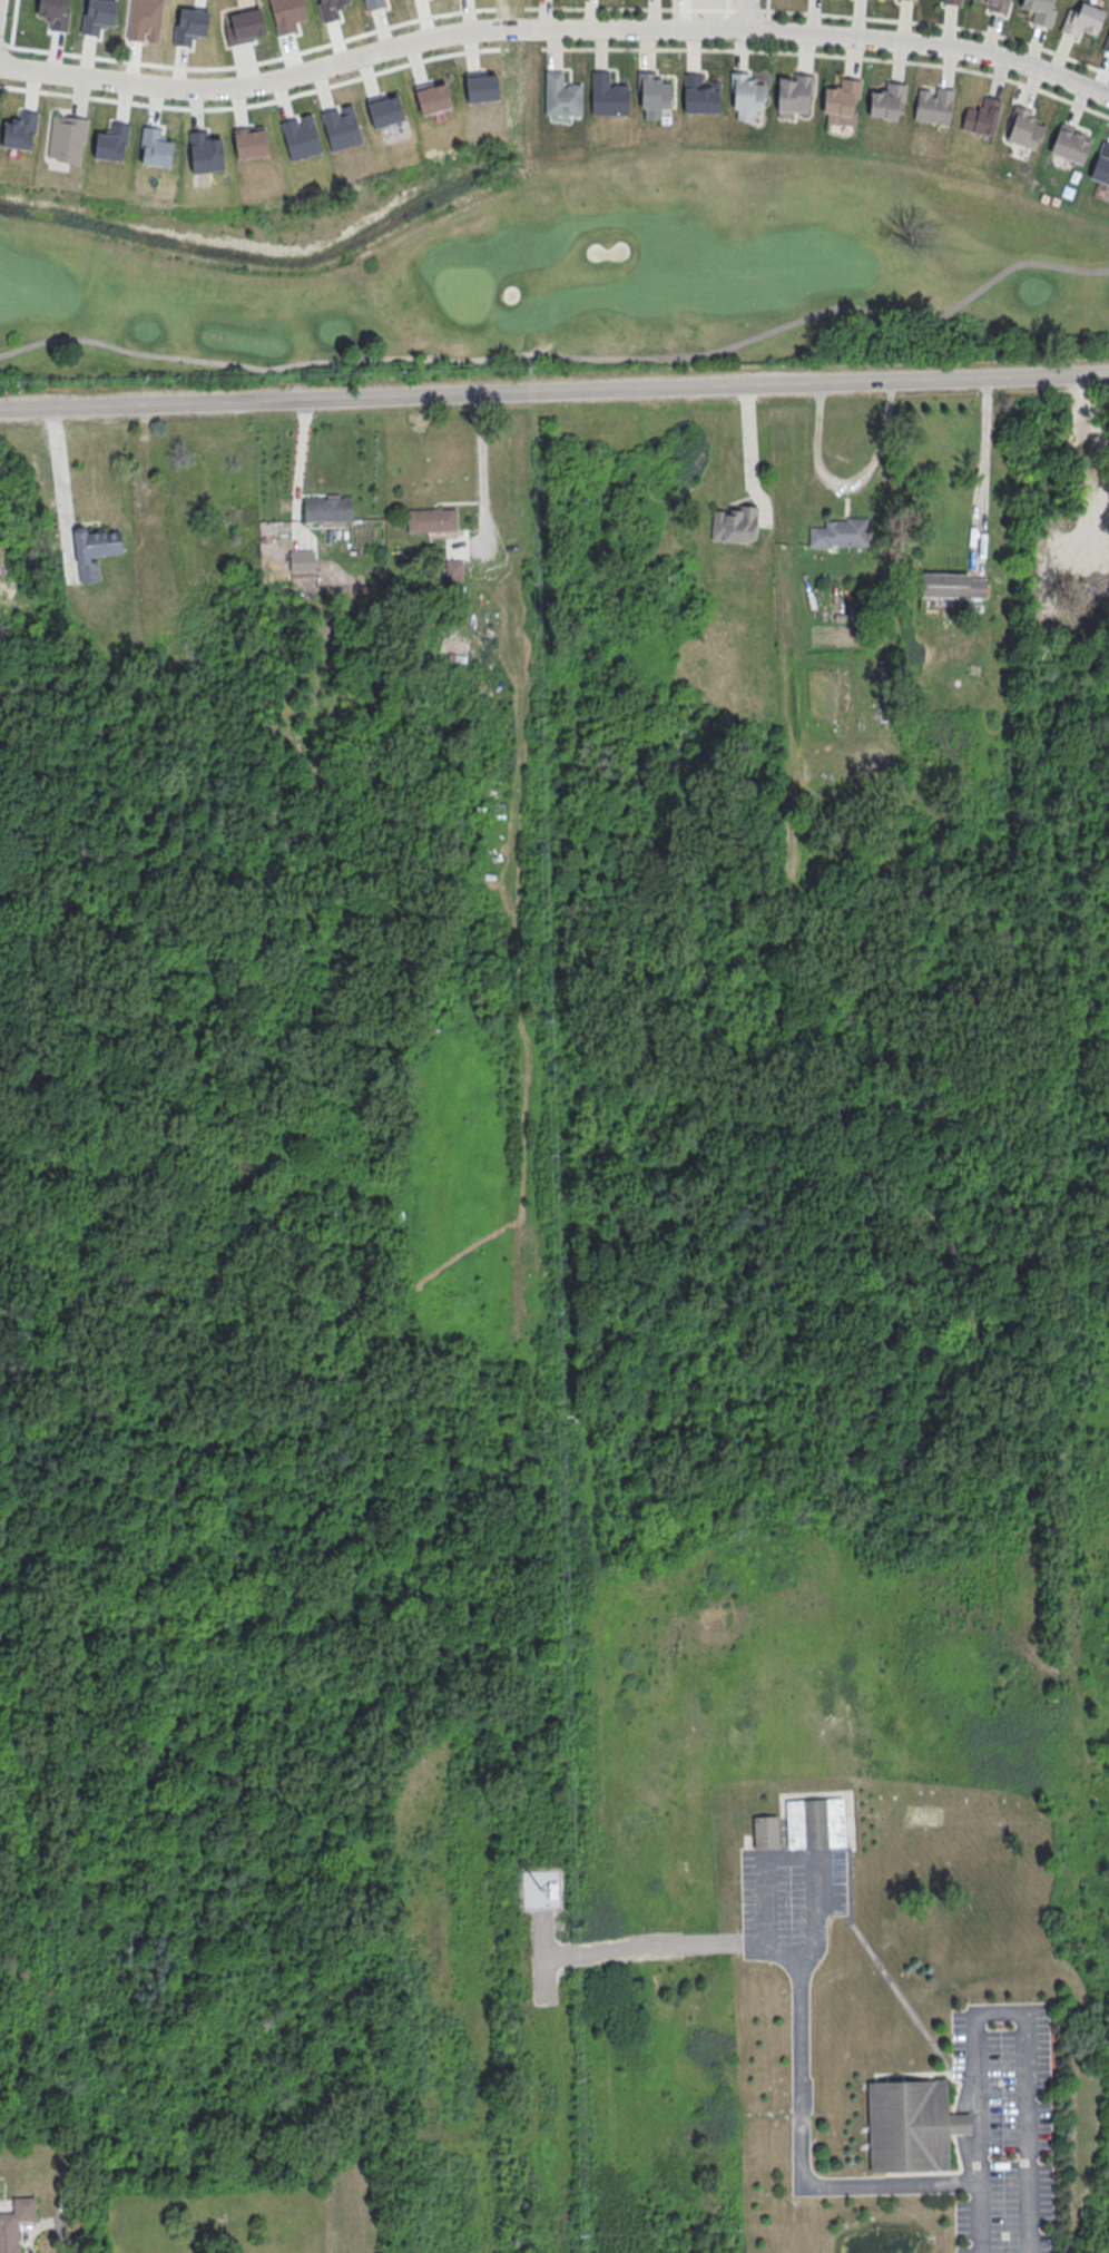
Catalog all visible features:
building: (911, 0)
building: (951, 2)
road: (766, 4)
building: (995, 4)
road: (597, 9)
building: (1039, 11)
road: (746, 13)
building: (1080, 19)
road: (931, 23)
building: (1106, 43)
road: (933, 46)
road: (374, 50)
road: (830, 55)
building: (794, 92)
building: (561, 95)
building: (699, 95)
building: (745, 95)
building: (606, 96)
building: (884, 99)
building: (657, 100)
building: (841, 102)
building: (932, 104)
building: (981, 117)
building: (1023, 131)
building: (67, 138)
building: (1070, 144)
building: (1101, 164)
park: (558, 272)
road: (562, 355)
road: (553, 390)
road: (749, 451)
road: (481, 467)
road: (58, 470)
road: (983, 471)
road: (848, 486)
building: (326, 509)
building: (431, 520)
building: (734, 525)
building: (838, 533)
building: (95, 547)
building: (301, 562)
building: (452, 569)
building: (951, 586)
building: (815, 1822)
building: (765, 1832)
building: (552, 1889)
road: (647, 1943)
road: (997, 2014)
building: (910, 2125)
road: (799, 2154)
building: (14, 2222)

